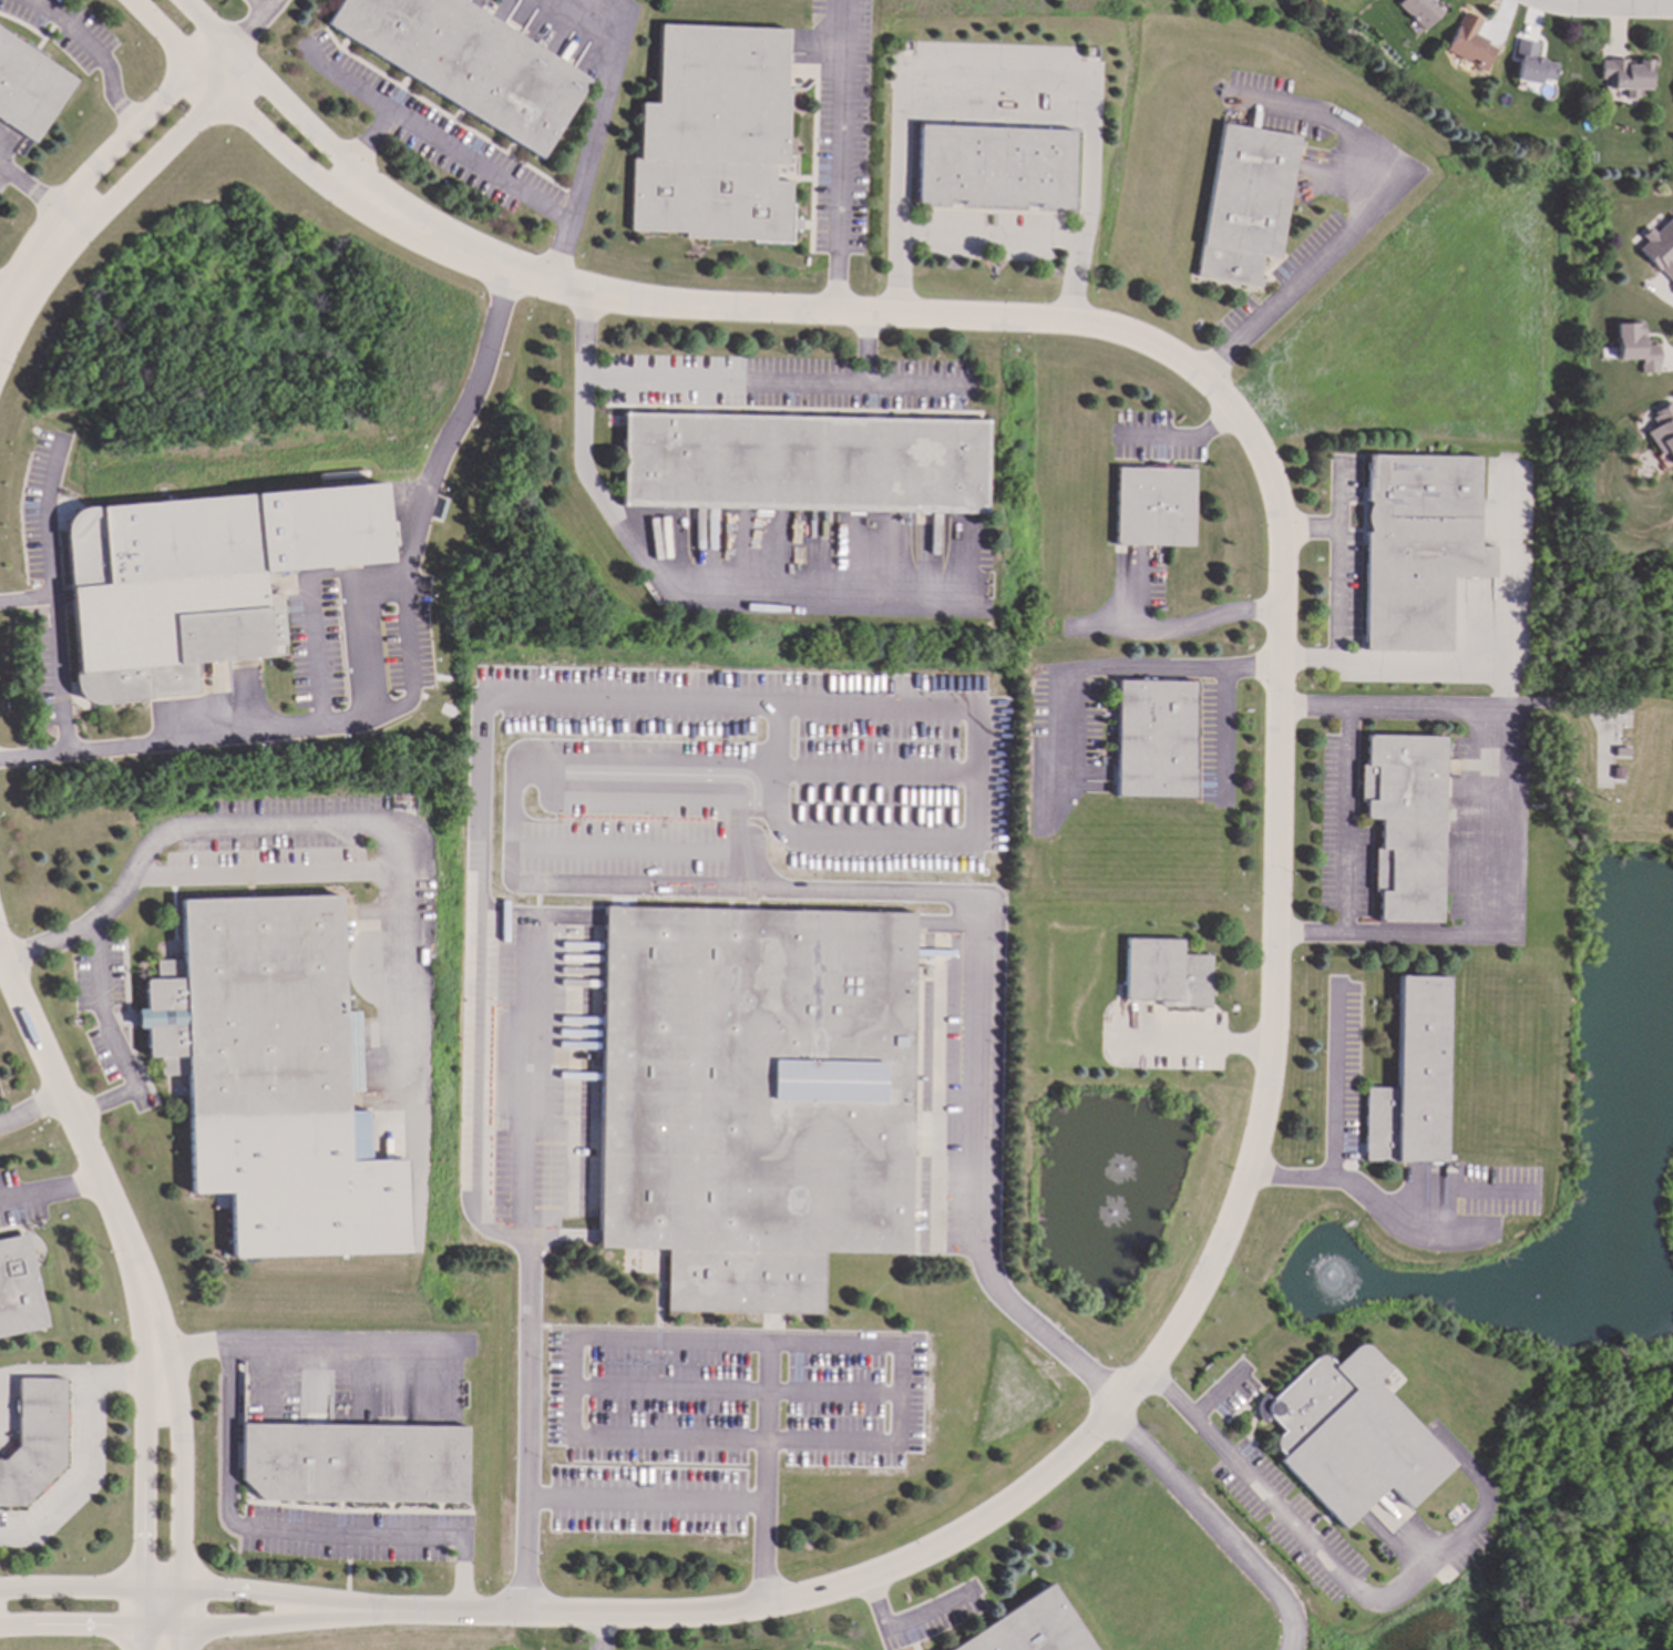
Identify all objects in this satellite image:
road: (264, 4)
road: (1608, 7)
building: (1420, 11)
road: (253, 21)
building: (1469, 43)
road: (101, 53)
building: (469, 63)
building: (1531, 64)
road: (997, 75)
building: (1625, 76)
road: (350, 82)
building: (29, 89)
road: (273, 91)
road: (605, 98)
road: (235, 105)
road: (997, 115)
road: (140, 130)
building: (716, 137)
road: (166, 156)
road: (471, 158)
road: (842, 163)
building: (996, 166)
road: (37, 195)
building: (1246, 204)
road: (1361, 222)
road: (992, 239)
building: (1660, 248)
road: (31, 278)
road: (10, 290)
road: (697, 308)
building: (1636, 348)
road: (719, 382)
road: (915, 387)
building: (1663, 430)
road: (1184, 439)
building: (802, 463)
building: (1154, 508)
road: (45, 522)
road: (1311, 529)
building: (1418, 547)
road: (1340, 562)
road: (1509, 573)
building: (198, 581)
road: (402, 584)
road: (698, 607)
park: (1616, 626)
road: (1180, 633)
road: (1418, 662)
road: (1111, 668)
road: (63, 681)
road: (751, 697)
road: (341, 726)
road: (1224, 734)
road: (256, 737)
building: (1154, 739)
road: (588, 754)
road: (483, 759)
road: (881, 762)
road: (983, 776)
road: (637, 781)
road: (1497, 817)
road: (294, 822)
road: (1348, 822)
building: (1405, 824)
road: (630, 838)
road: (1275, 942)
road: (983, 952)
building: (1166, 974)
road: (105, 1015)
road: (1194, 1047)
road: (479, 1053)
building: (271, 1078)
building: (1412, 1080)
building: (753, 1097)
road: (105, 1103)
road: (31, 1109)
road: (1336, 1127)
road: (92, 1161)
road: (50, 1192)
road: (1430, 1199)
road: (531, 1273)
building: (18, 1290)
road: (340, 1350)
road: (910, 1350)
road: (47, 1372)
road: (743, 1386)
road: (1219, 1393)
building: (1349, 1436)
building: (34, 1441)
road: (91, 1449)
building: (353, 1463)
road: (766, 1475)
road: (647, 1493)
road: (143, 1514)
road: (179, 1514)
road: (1213, 1527)
road: (258, 1530)
road: (1343, 1578)
road: (188, 1593)
road: (661, 1616)
building: (1029, 1628)
road: (890, 1632)
road: (188, 1633)
road: (592, 1633)

